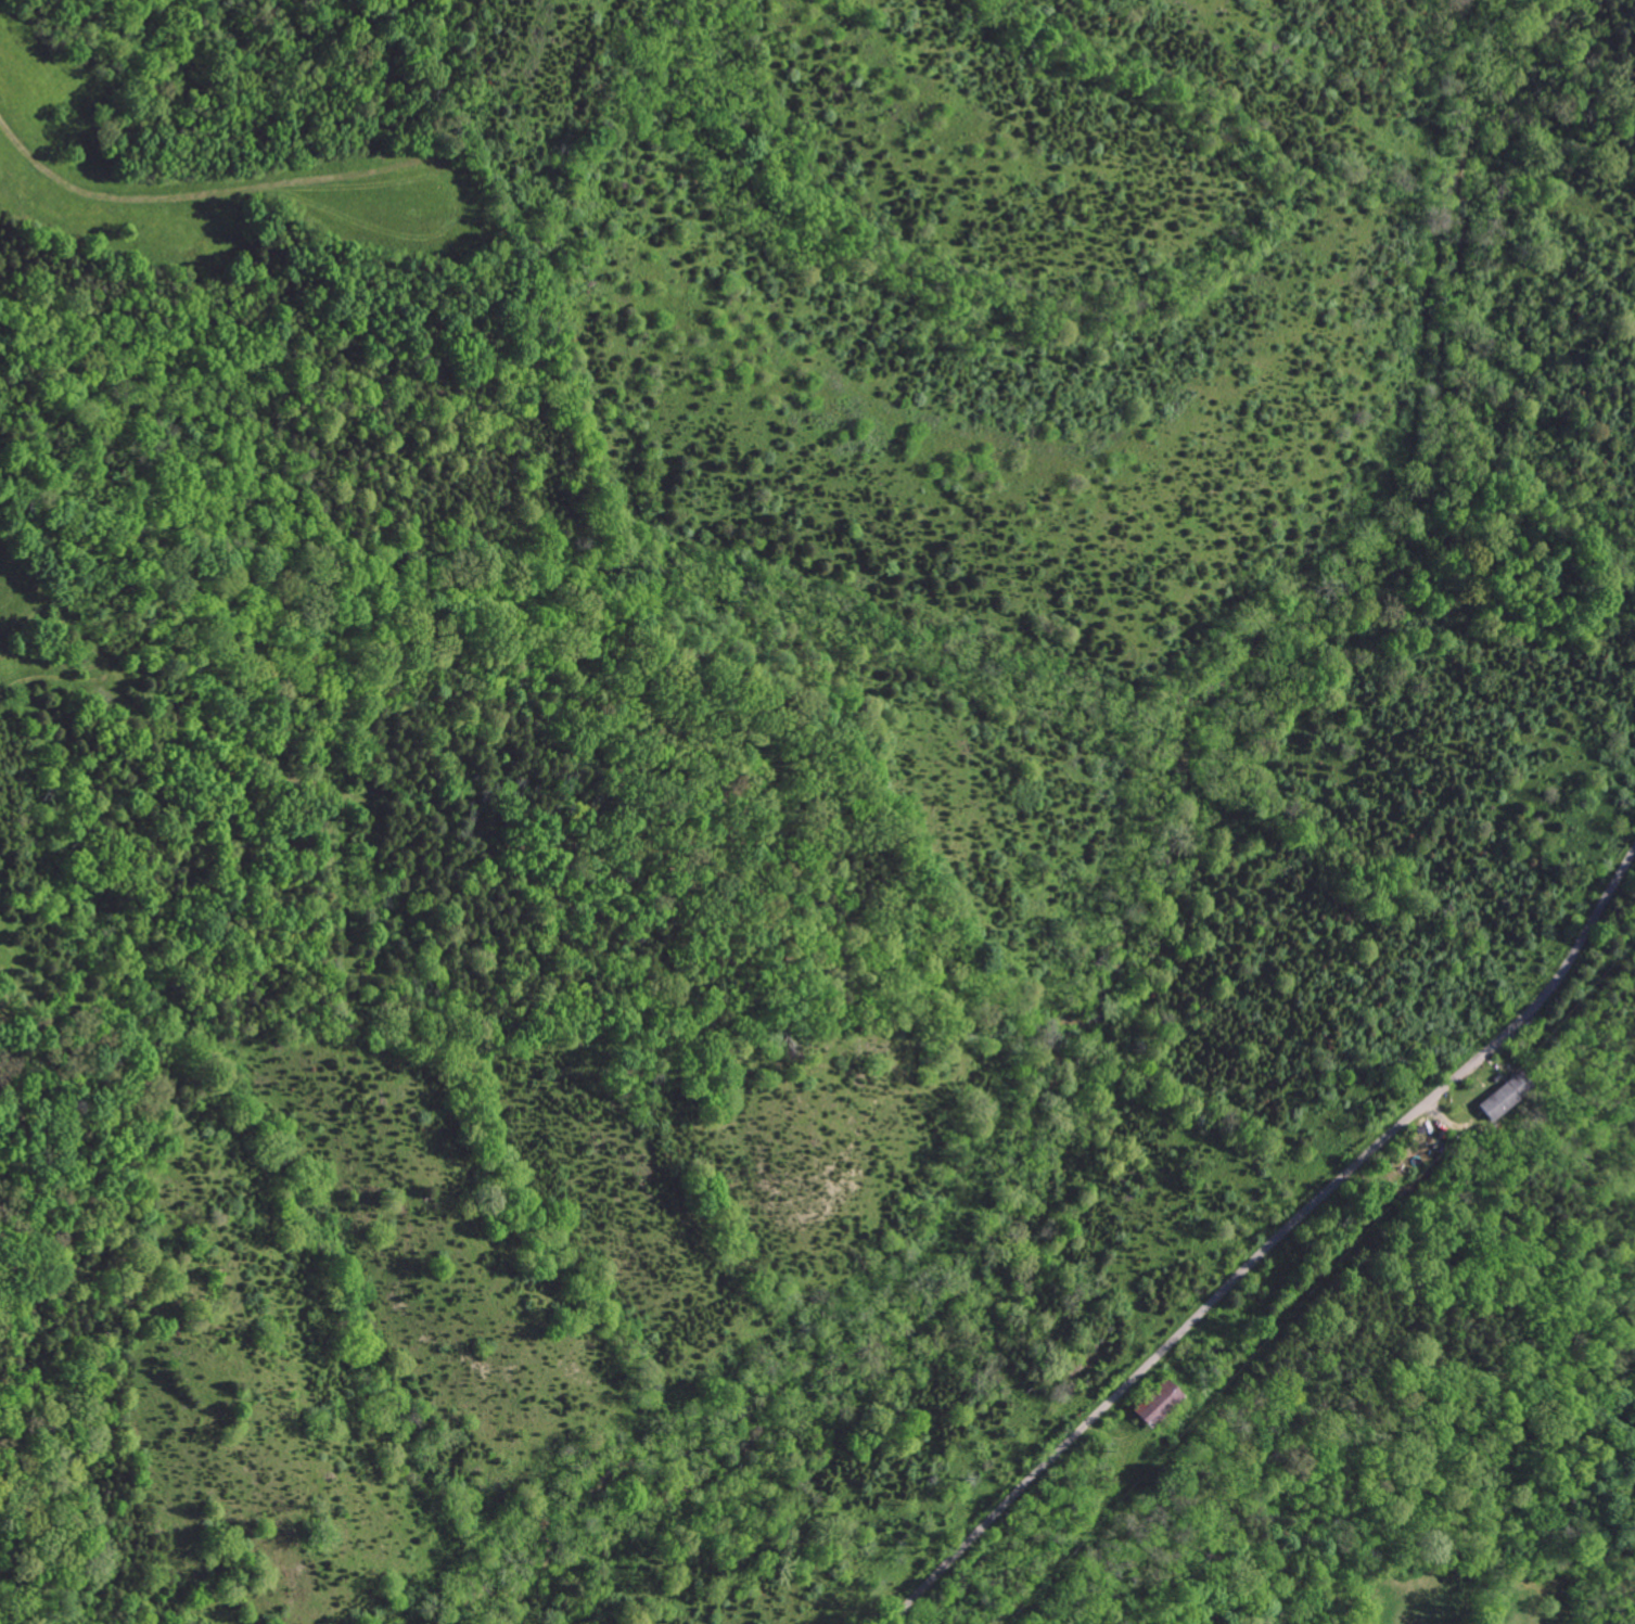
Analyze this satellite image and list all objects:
building: (1499, 1096)
road: (1275, 1245)
building: (1155, 1403)

